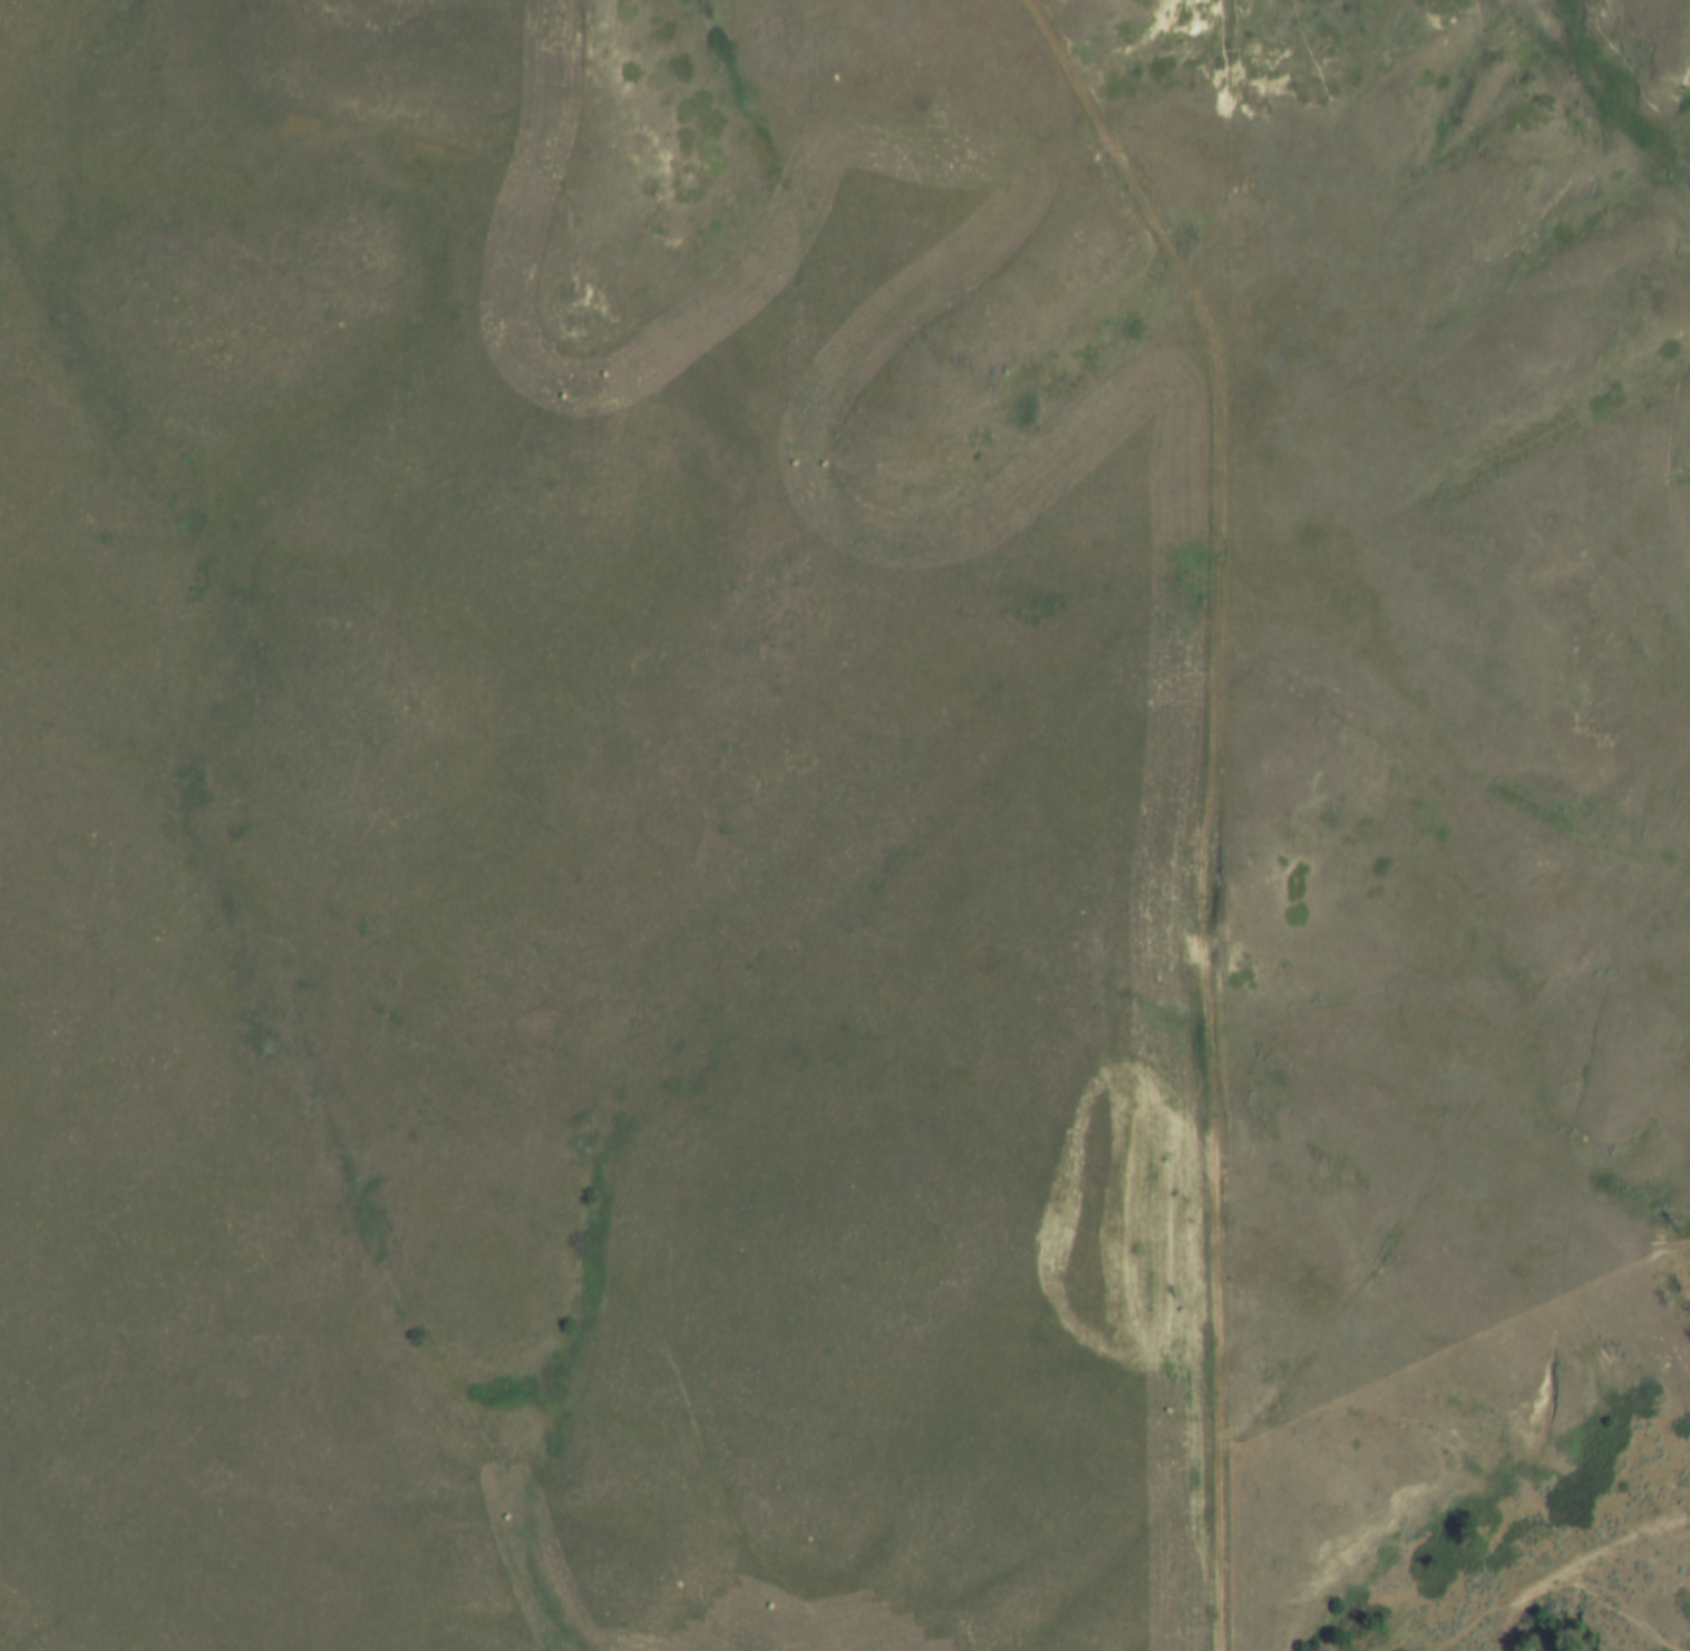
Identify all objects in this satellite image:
road: (1205, 799)

